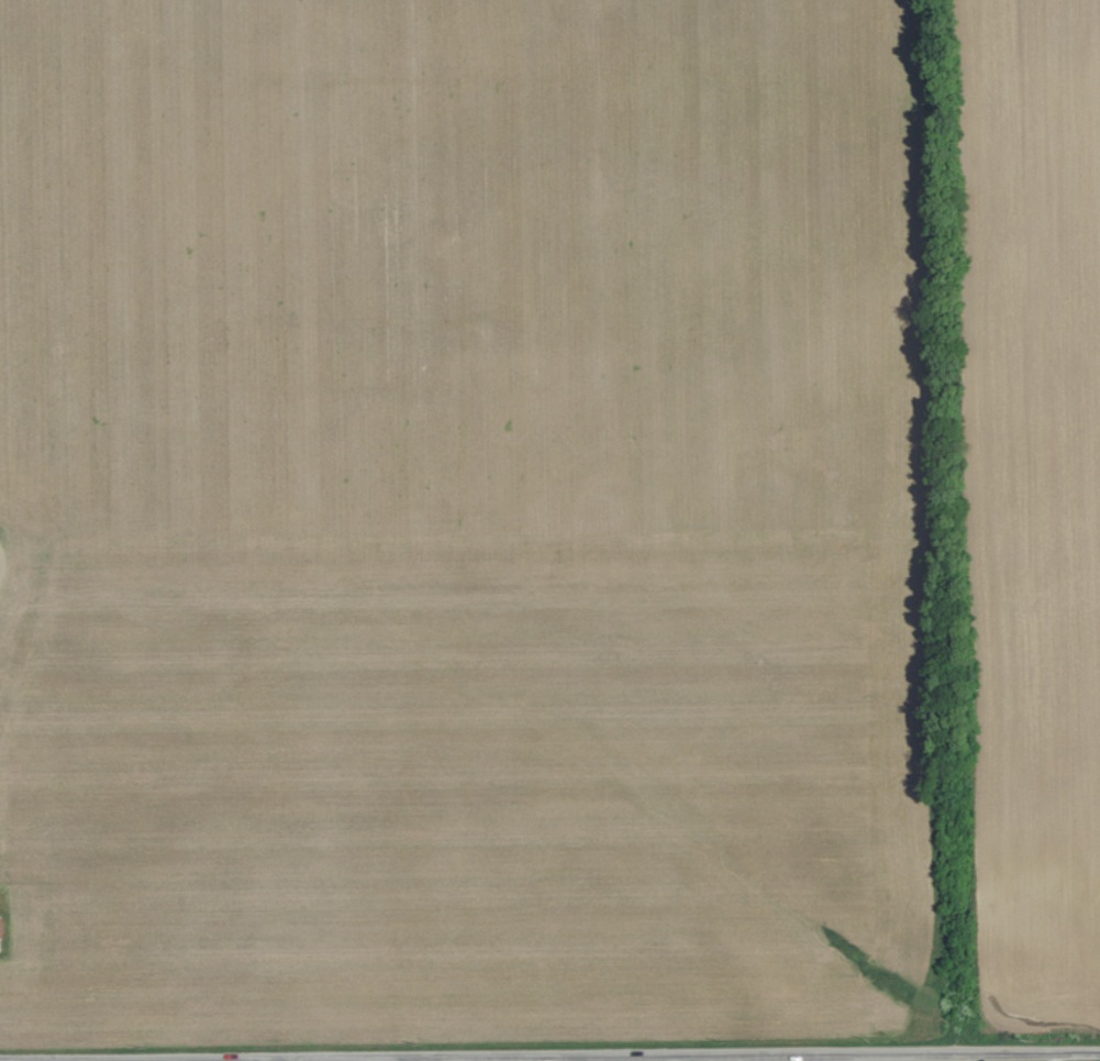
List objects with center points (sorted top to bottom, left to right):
road: (585, 1056)

